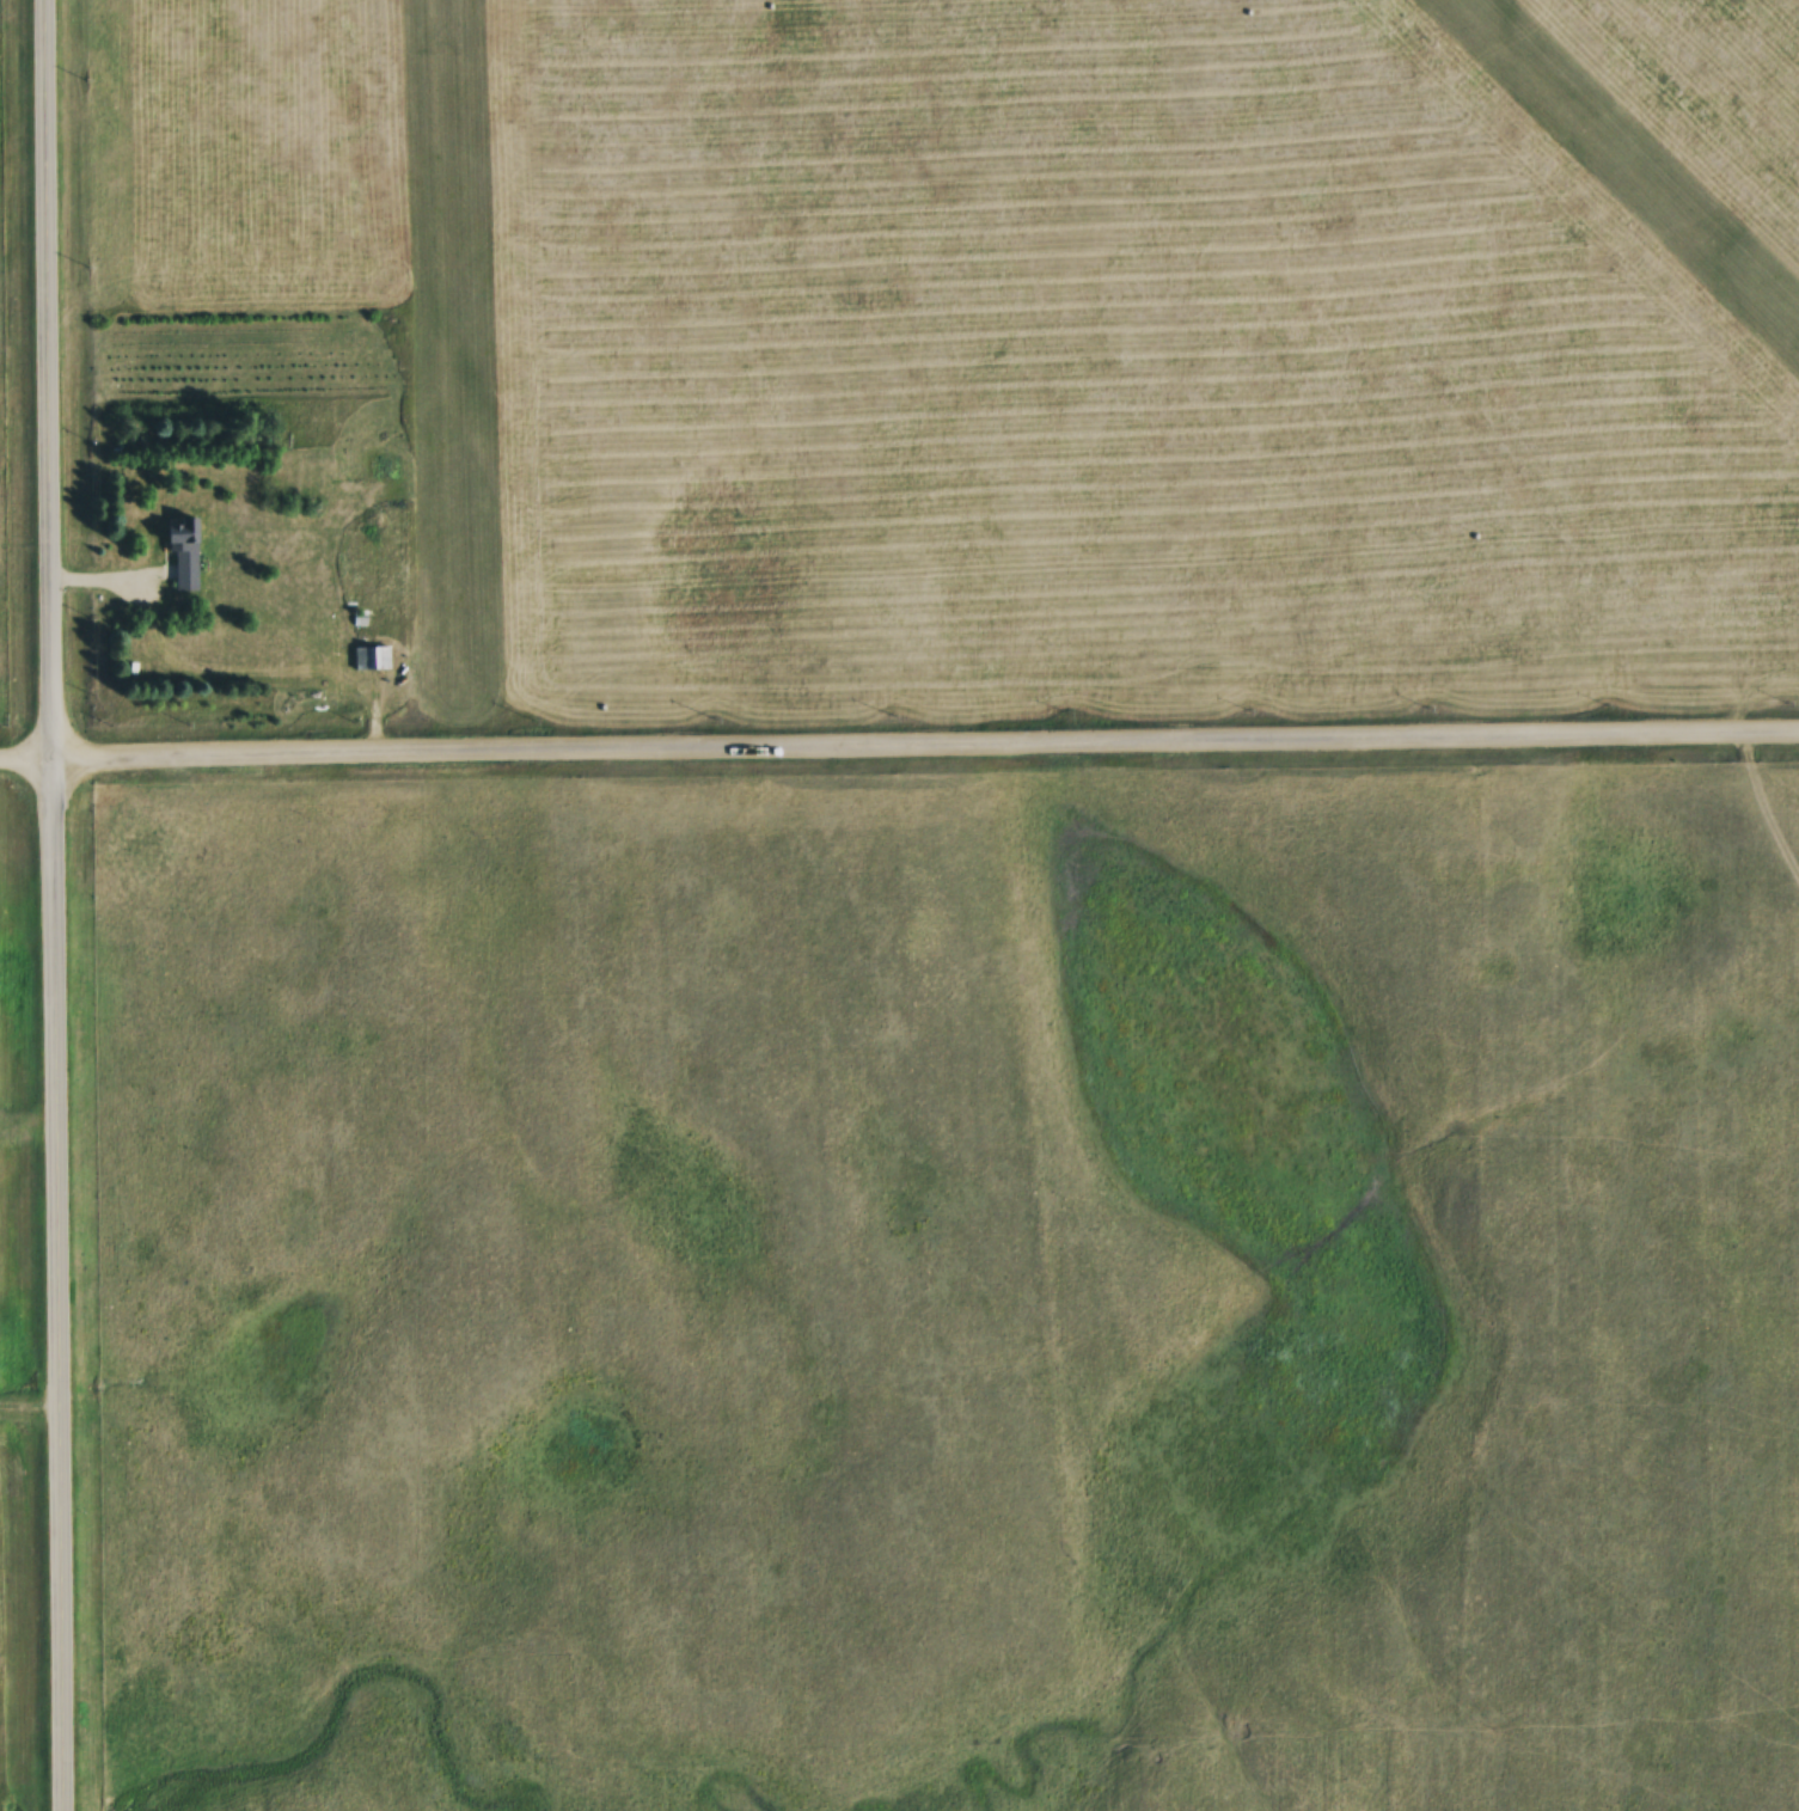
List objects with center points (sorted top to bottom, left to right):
airport runway: (1621, 173)
airport runway: (441, 345)
building: (180, 553)
building: (369, 659)
road: (899, 748)
road: (63, 905)

